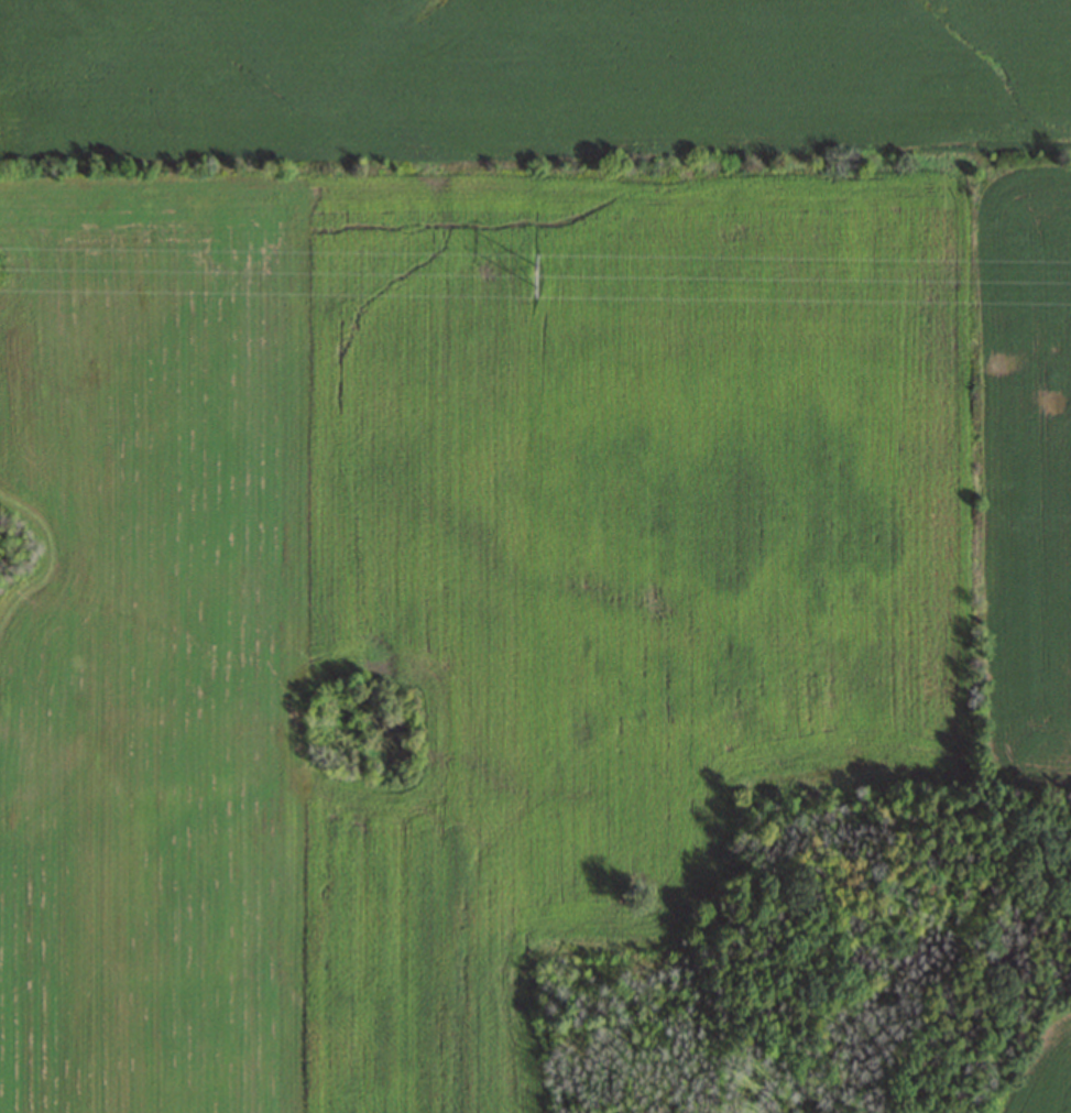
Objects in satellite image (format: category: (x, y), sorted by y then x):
power tower: (536, 273)

